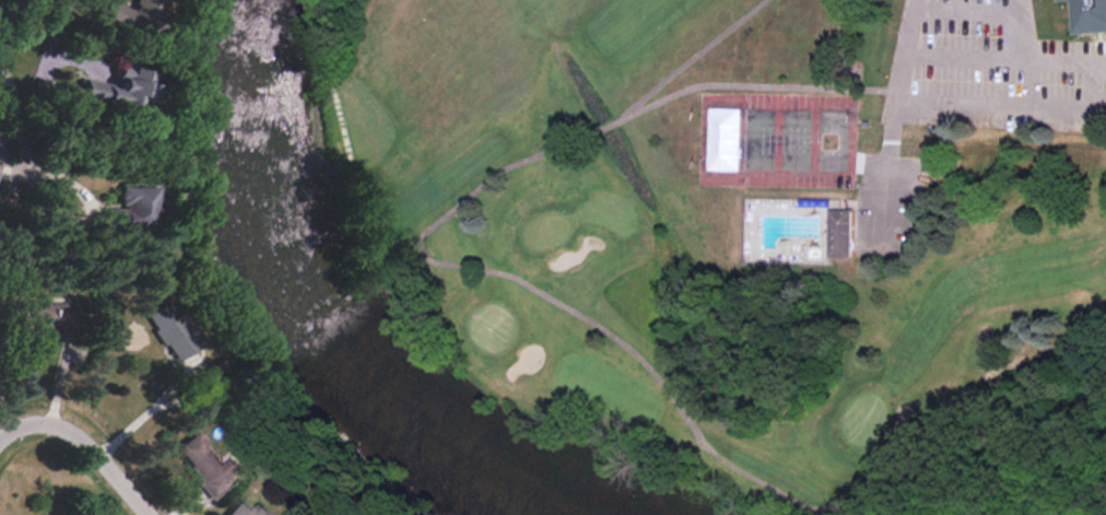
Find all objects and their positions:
building: (1089, 15)
building: (132, 17)
road: (57, 28)
parking lot: (984, 60)
building: (120, 91)
road: (17, 119)
park: (775, 138)
building: (723, 139)
building: (136, 208)
building: (839, 233)
park: (746, 234)
building: (47, 316)
building: (174, 331)
river: (341, 331)
road: (169, 387)
road: (7, 414)
road: (13, 429)
road: (95, 455)
building: (209, 466)
building: (248, 511)

